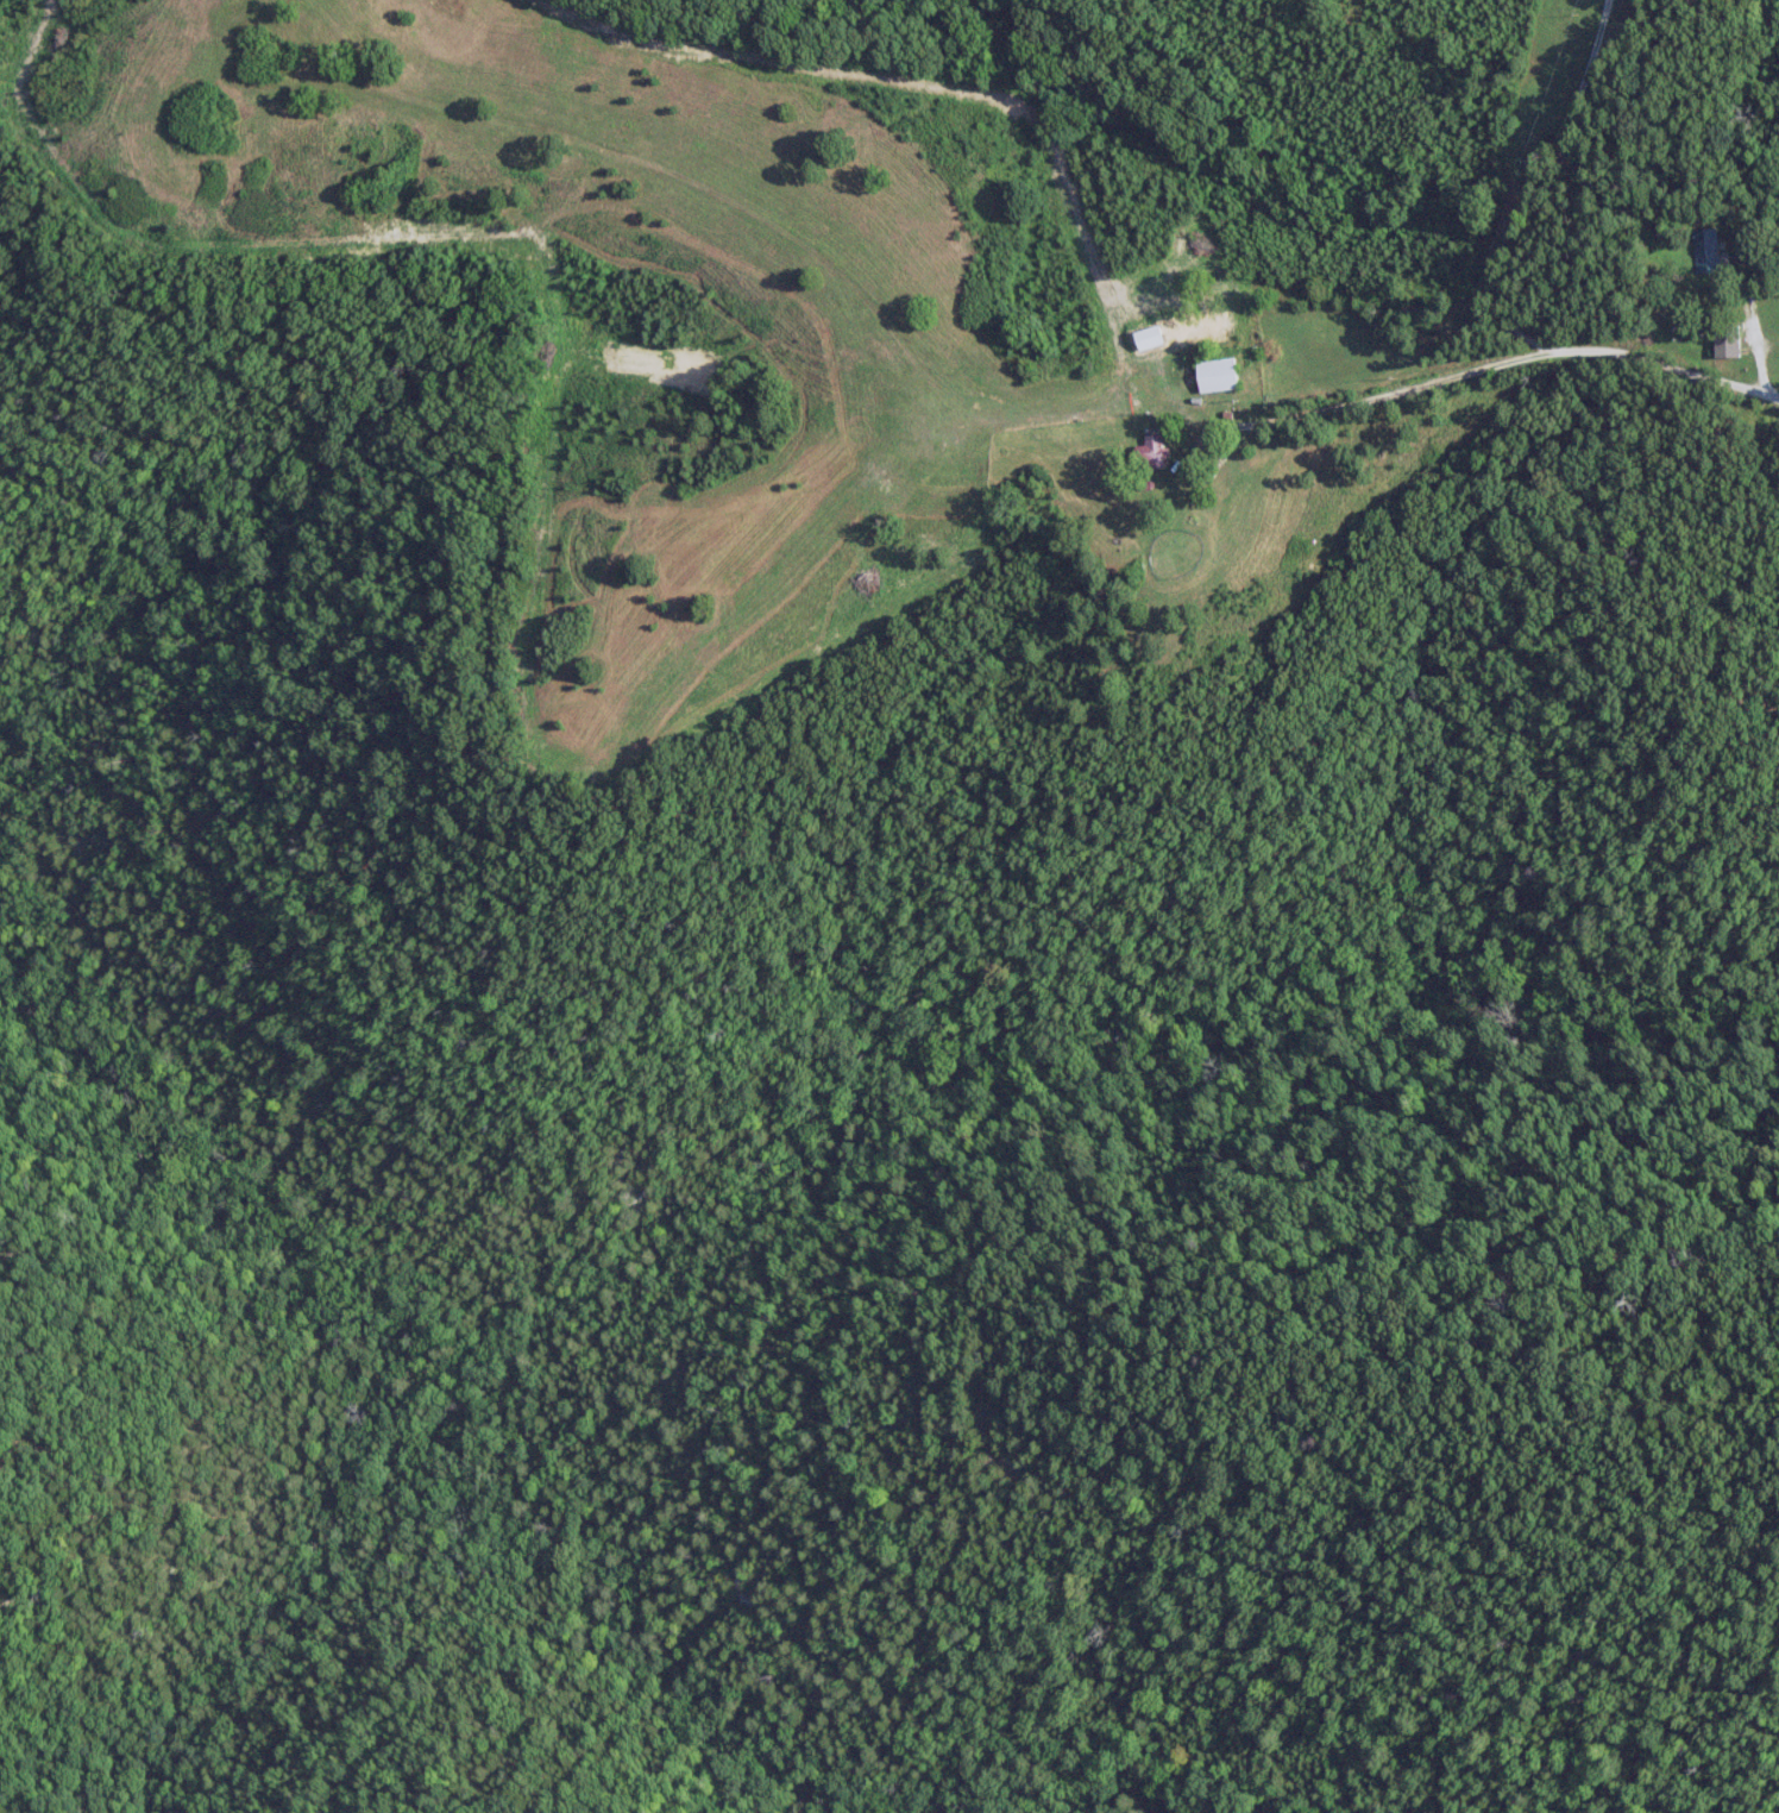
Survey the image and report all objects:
road: (1544, 197)
building: (1704, 250)
building: (1725, 344)
road: (1547, 356)
building: (1211, 374)

